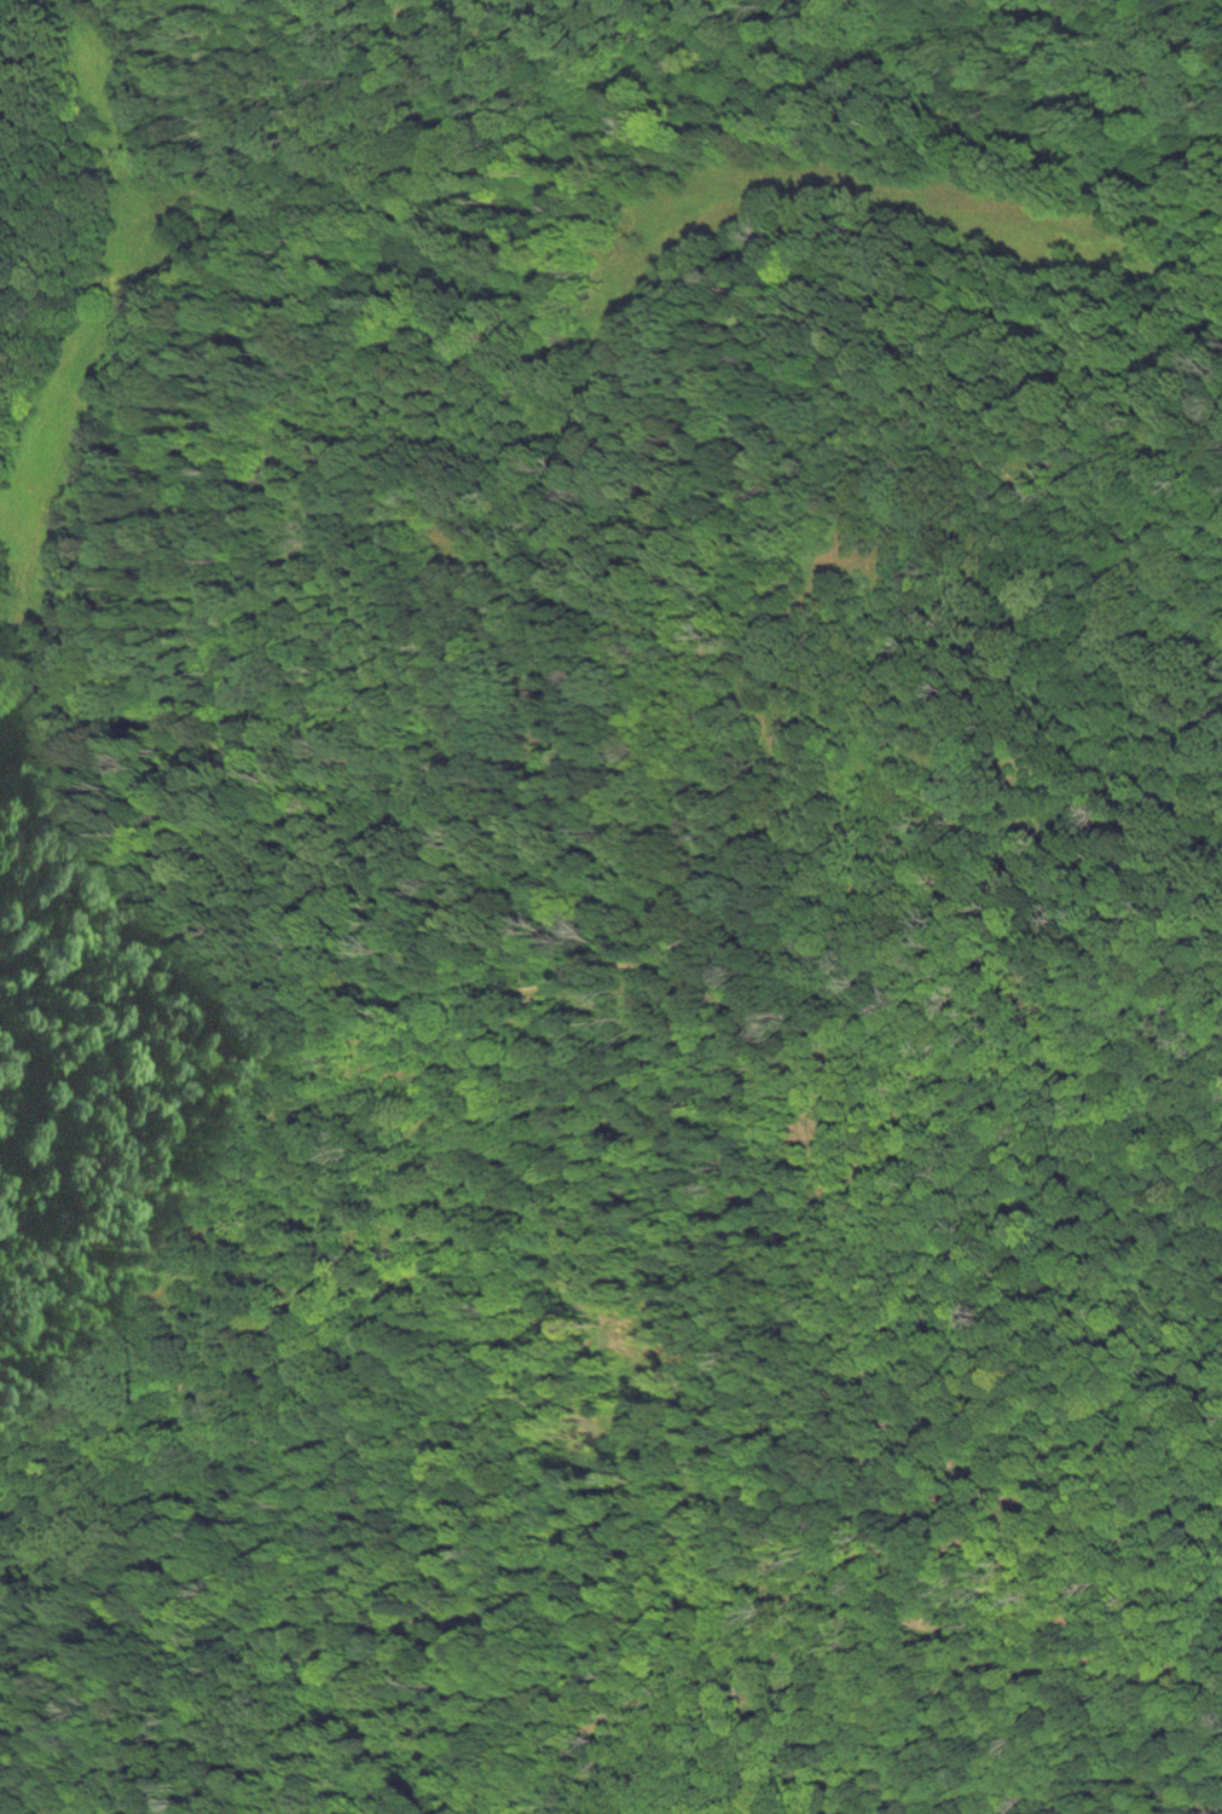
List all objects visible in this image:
road: (103, 1480)

